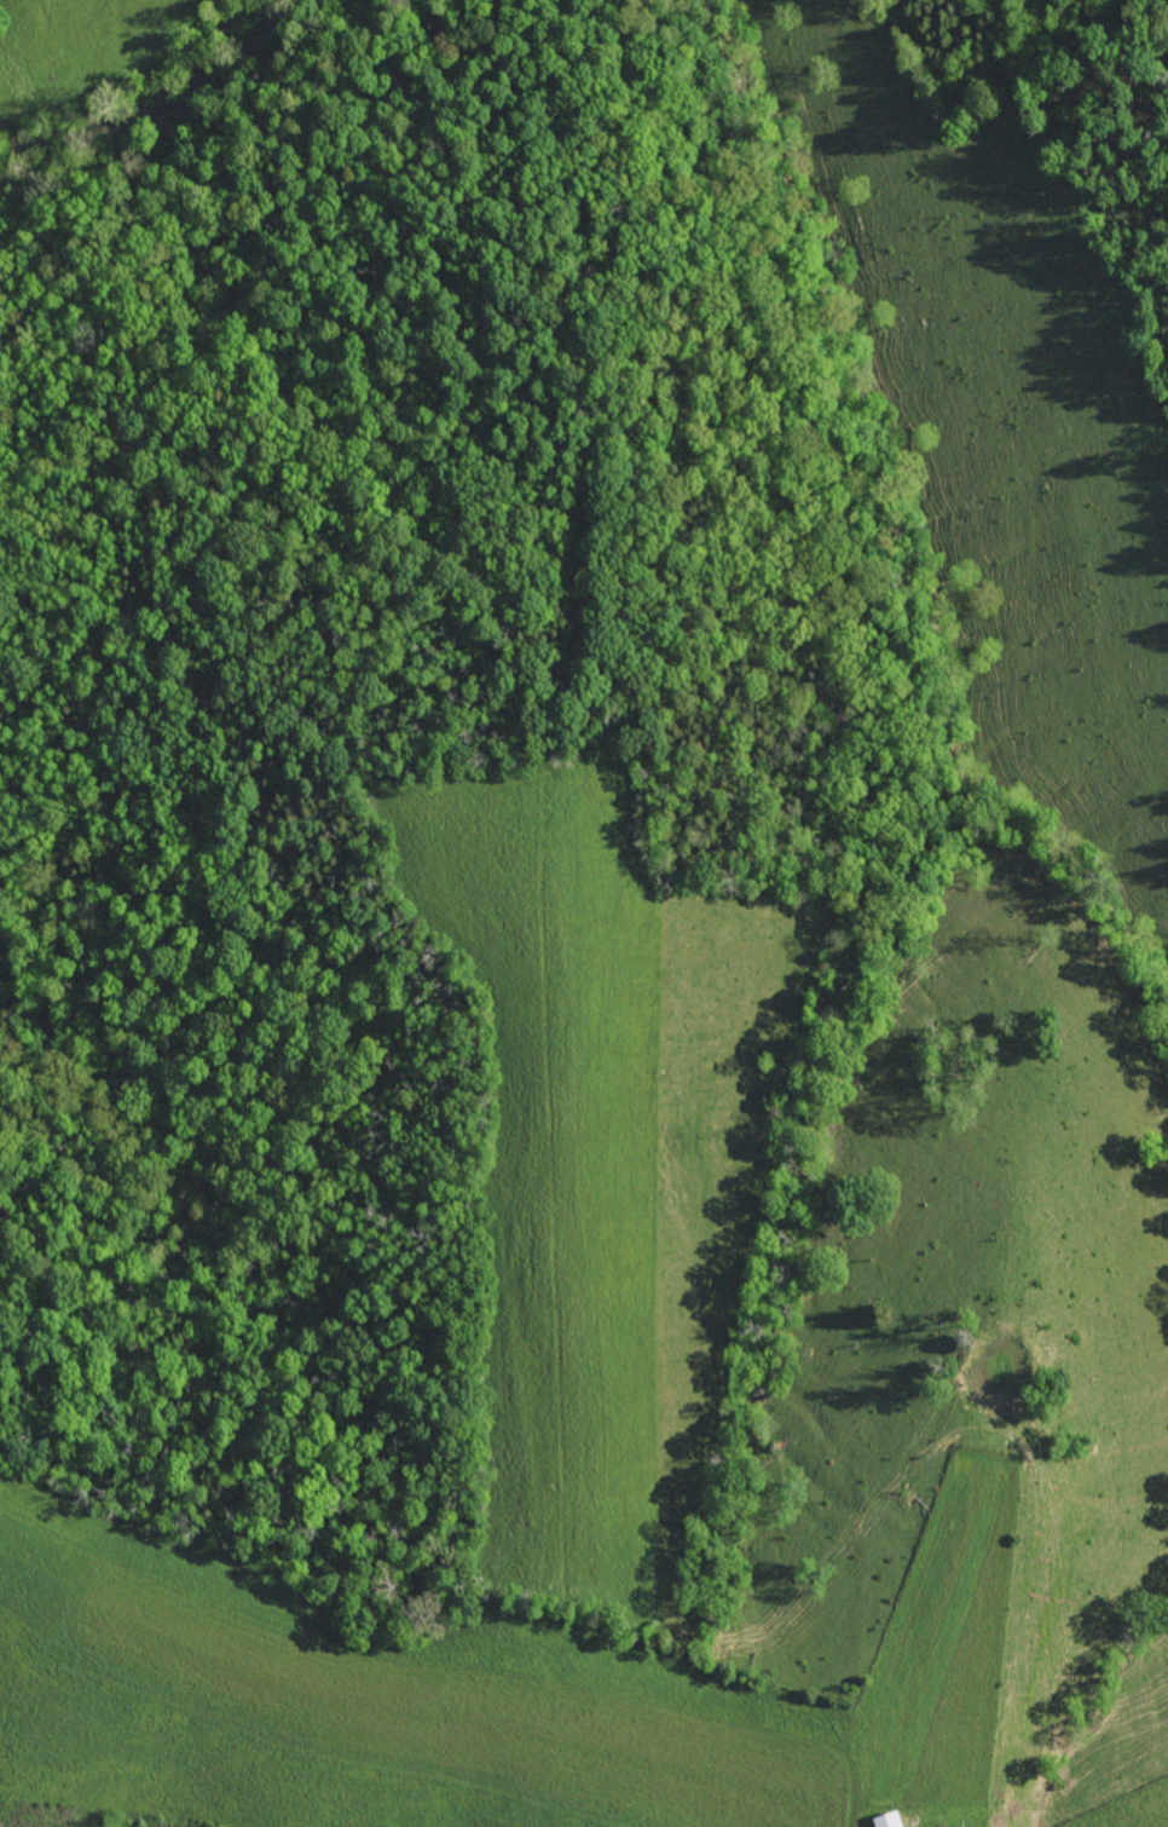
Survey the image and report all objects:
building: (883, 1820)

